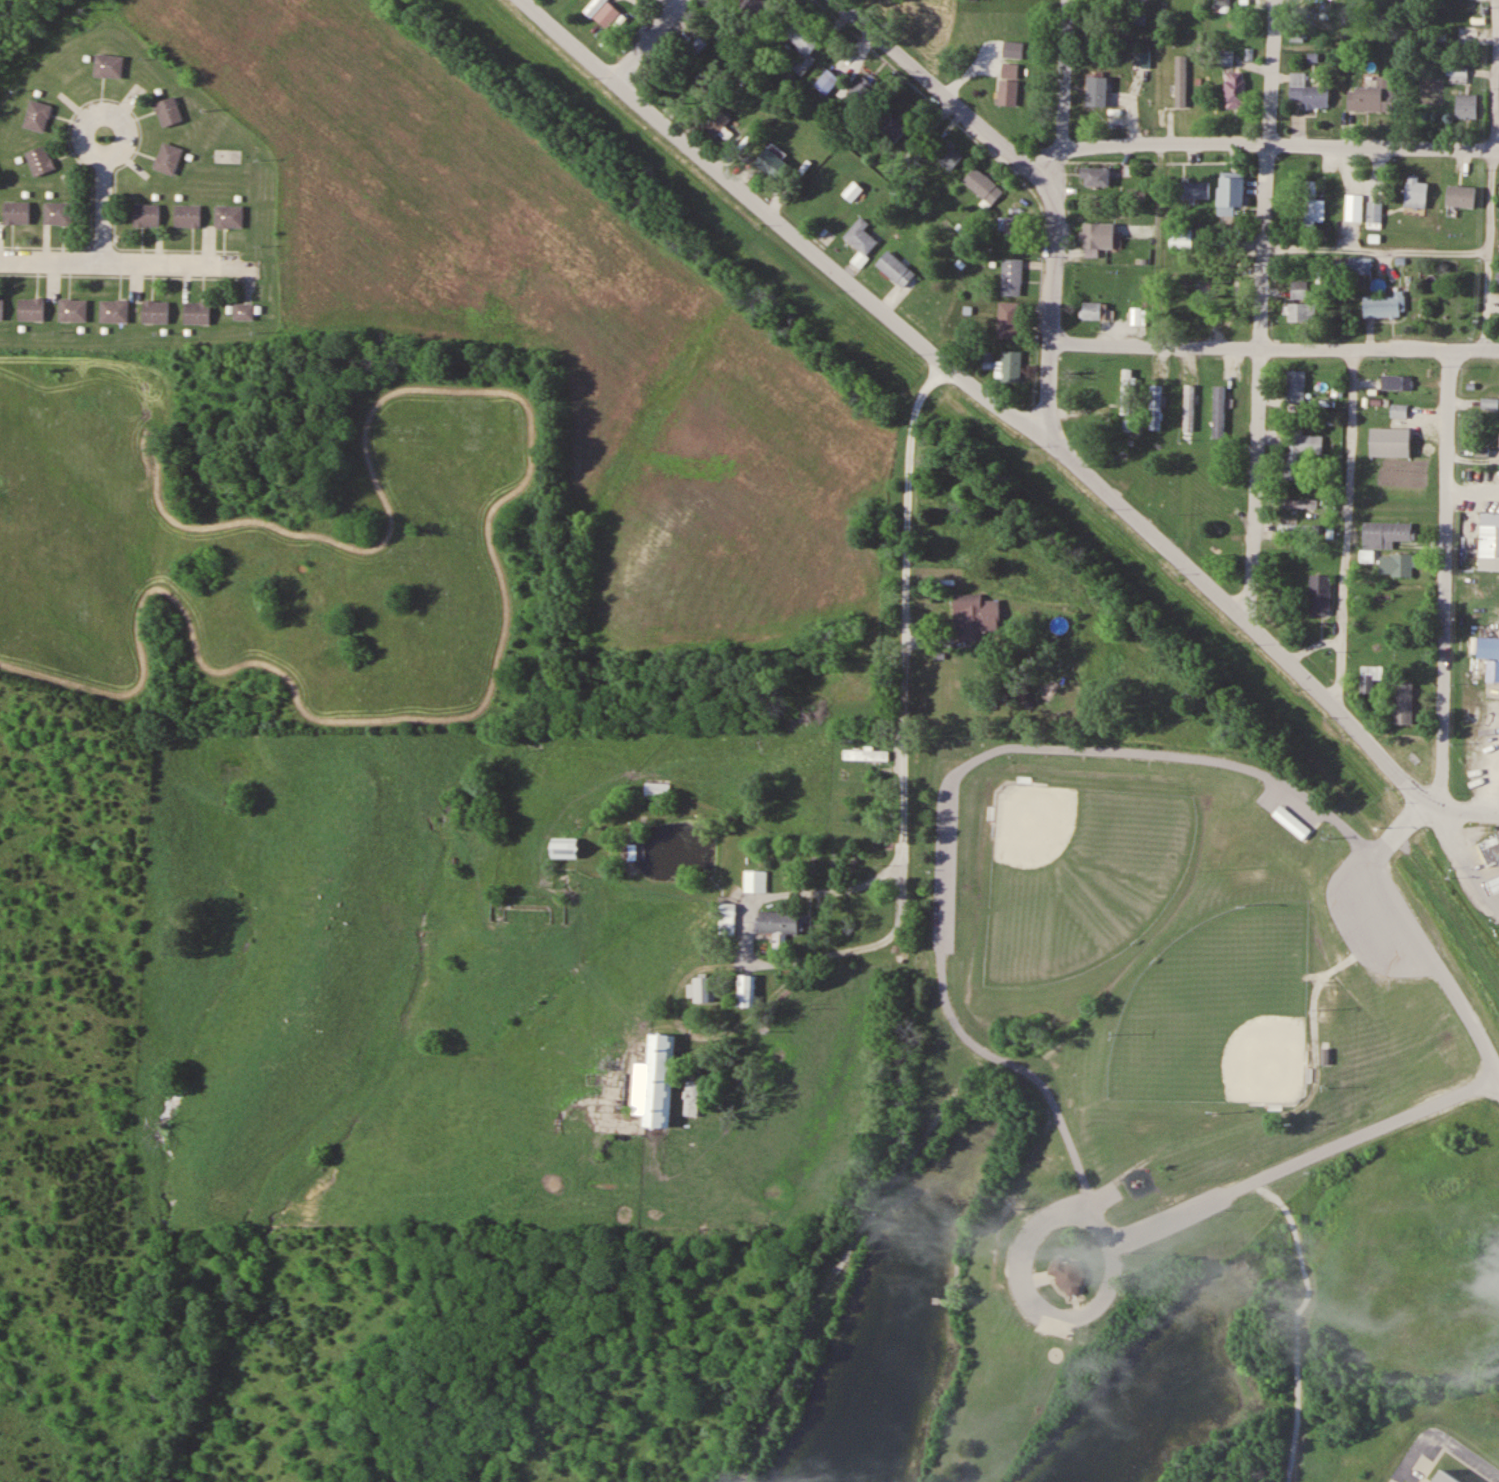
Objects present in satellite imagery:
building: (1140, 1)
building: (1222, 5)
building: (753, 8)
building: (603, 12)
road: (647, 39)
building: (802, 41)
building: (1141, 59)
building: (109, 66)
building: (1010, 69)
road: (1066, 73)
building: (1458, 74)
building: (1181, 81)
building: (827, 82)
building: (1235, 90)
building: (1007, 92)
building: (1096, 92)
building: (1309, 92)
building: (859, 93)
building: (1374, 95)
road: (948, 99)
building: (1466, 106)
building: (741, 109)
building: (168, 111)
road: (124, 115)
building: (38, 116)
building: (713, 121)
building: (888, 128)
road: (1281, 141)
building: (947, 155)
building: (168, 158)
building: (40, 160)
building: (771, 163)
road: (1060, 173)
building: (1097, 176)
building: (983, 186)
building: (1193, 190)
building: (852, 191)
building: (1415, 192)
building: (1231, 194)
building: (1461, 196)
building: (1313, 206)
building: (1354, 207)
road: (105, 210)
building: (16, 212)
building: (58, 213)
building: (1375, 213)
building: (146, 215)
building: (187, 215)
building: (228, 216)
road: (779, 222)
building: (1013, 231)
building: (861, 236)
building: (1098, 236)
building: (1181, 238)
building: (1203, 239)
road: (116, 260)
building: (1353, 265)
building: (895, 269)
building: (1012, 277)
building: (1299, 289)
building: (1387, 304)
building: (1, 308)
building: (31, 309)
building: (73, 310)
building: (1094, 310)
building: (114, 311)
building: (155, 311)
building: (244, 311)
building: (1302, 312)
building: (196, 313)
road: (1266, 315)
building: (1136, 316)
road: (1049, 318)
building: (1009, 320)
road: (1273, 346)
building: (1011, 365)
building: (1397, 382)
building: (1296, 386)
building: (1128, 391)
building: (1154, 406)
building: (1399, 412)
building: (1391, 441)
building: (1301, 452)
building: (1301, 503)
building: (1299, 528)
road: (1350, 529)
building: (1387, 534)
building: (1491, 535)
building: (1397, 565)
road: (1447, 581)
building: (1321, 595)
building: (1393, 600)
building: (974, 616)
road: (1247, 620)
road: (907, 626)
building: (1490, 655)
building: (1370, 678)
building: (1404, 703)
road: (1046, 746)
building: (865, 755)
building: (657, 789)
road: (1470, 814)
building: (1292, 823)
building: (564, 848)
building: (632, 851)
building: (1491, 852)
park: (1077, 875)
building: (758, 881)
building: (1493, 885)
building: (726, 918)
building: (780, 923)
building: (702, 990)
building: (746, 991)
park: (1220, 1011)
park: (1095, 1057)
building: (593, 1079)
building: (654, 1083)
road: (1303, 1160)
road: (1032, 1245)
building: (1071, 1276)
road: (1442, 1439)
building: (1446, 1476)

